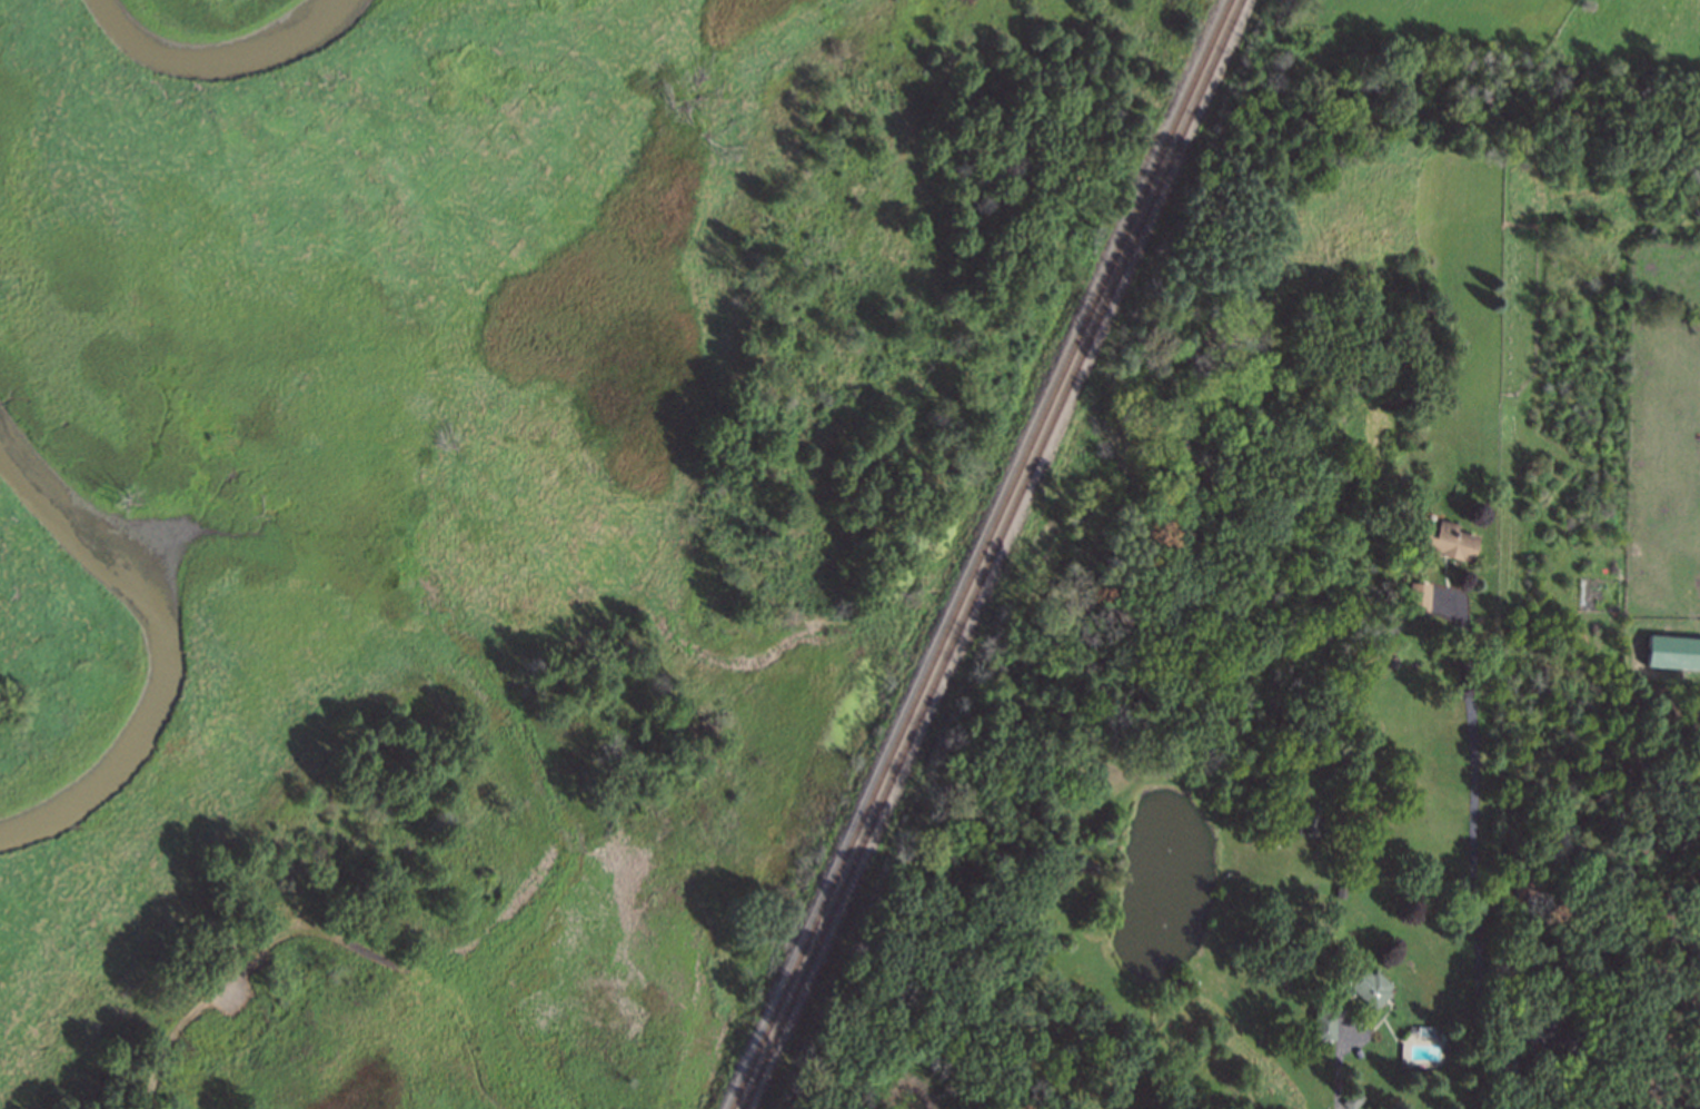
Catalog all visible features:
river: (213, 58)
building: (1450, 541)
railway: (981, 554)
railway: (993, 554)
building: (1421, 597)
river: (172, 638)
building: (1674, 652)
road: (1472, 855)
building: (1372, 986)
building: (1325, 1026)
building: (1544, 1032)
road: (1339, 1063)

